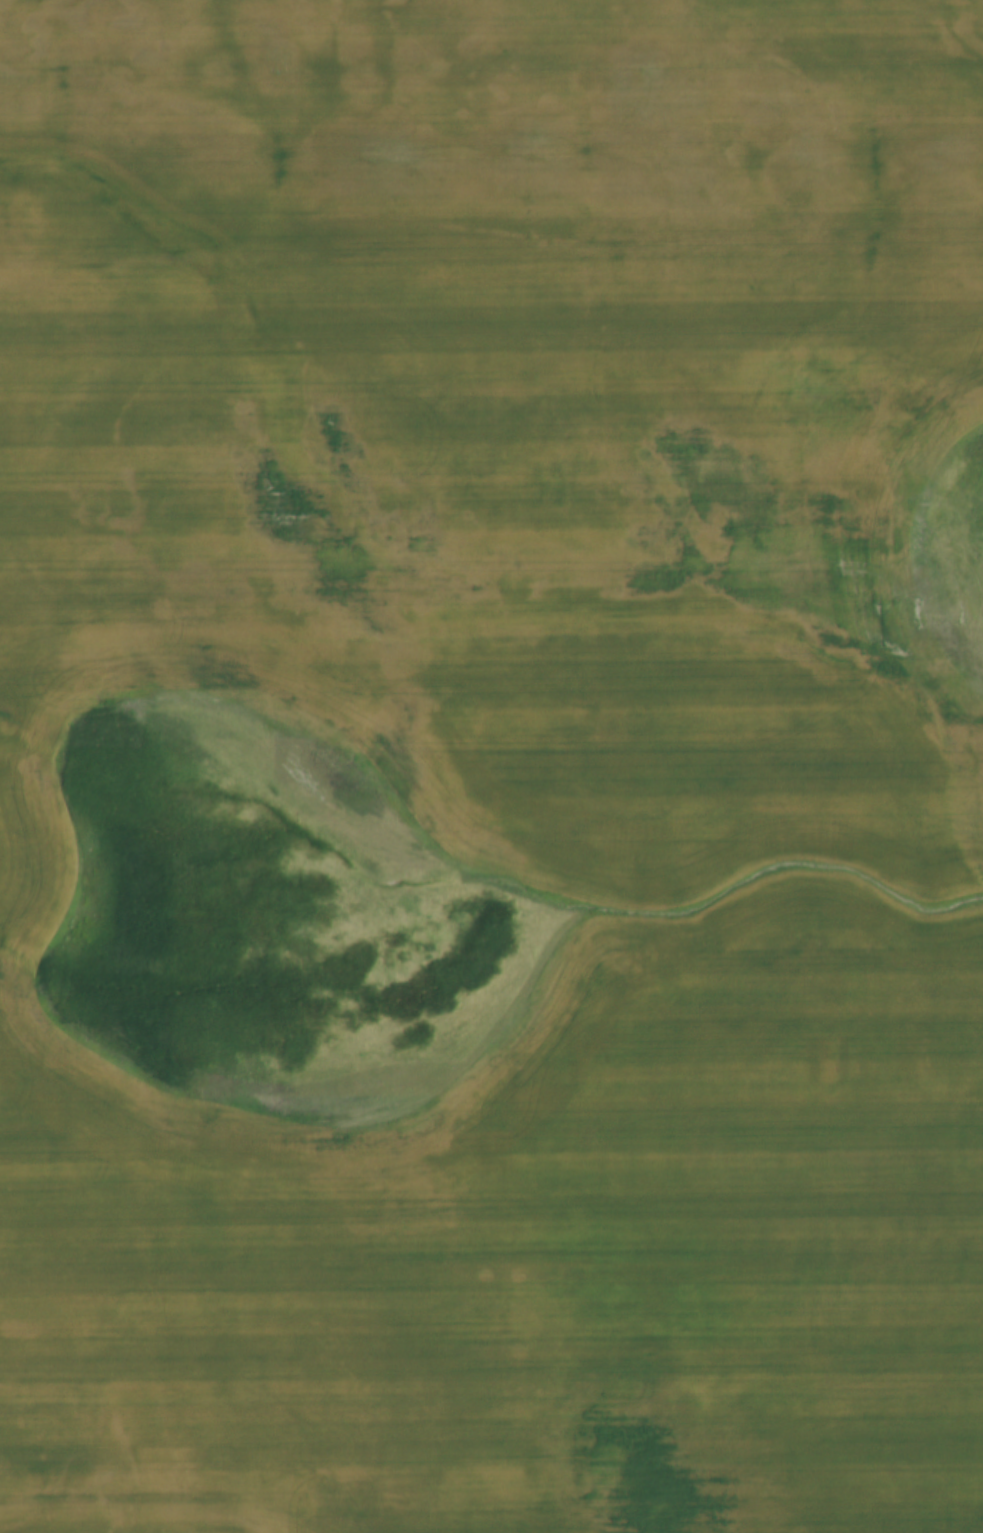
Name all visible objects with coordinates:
road: (975, 3)

